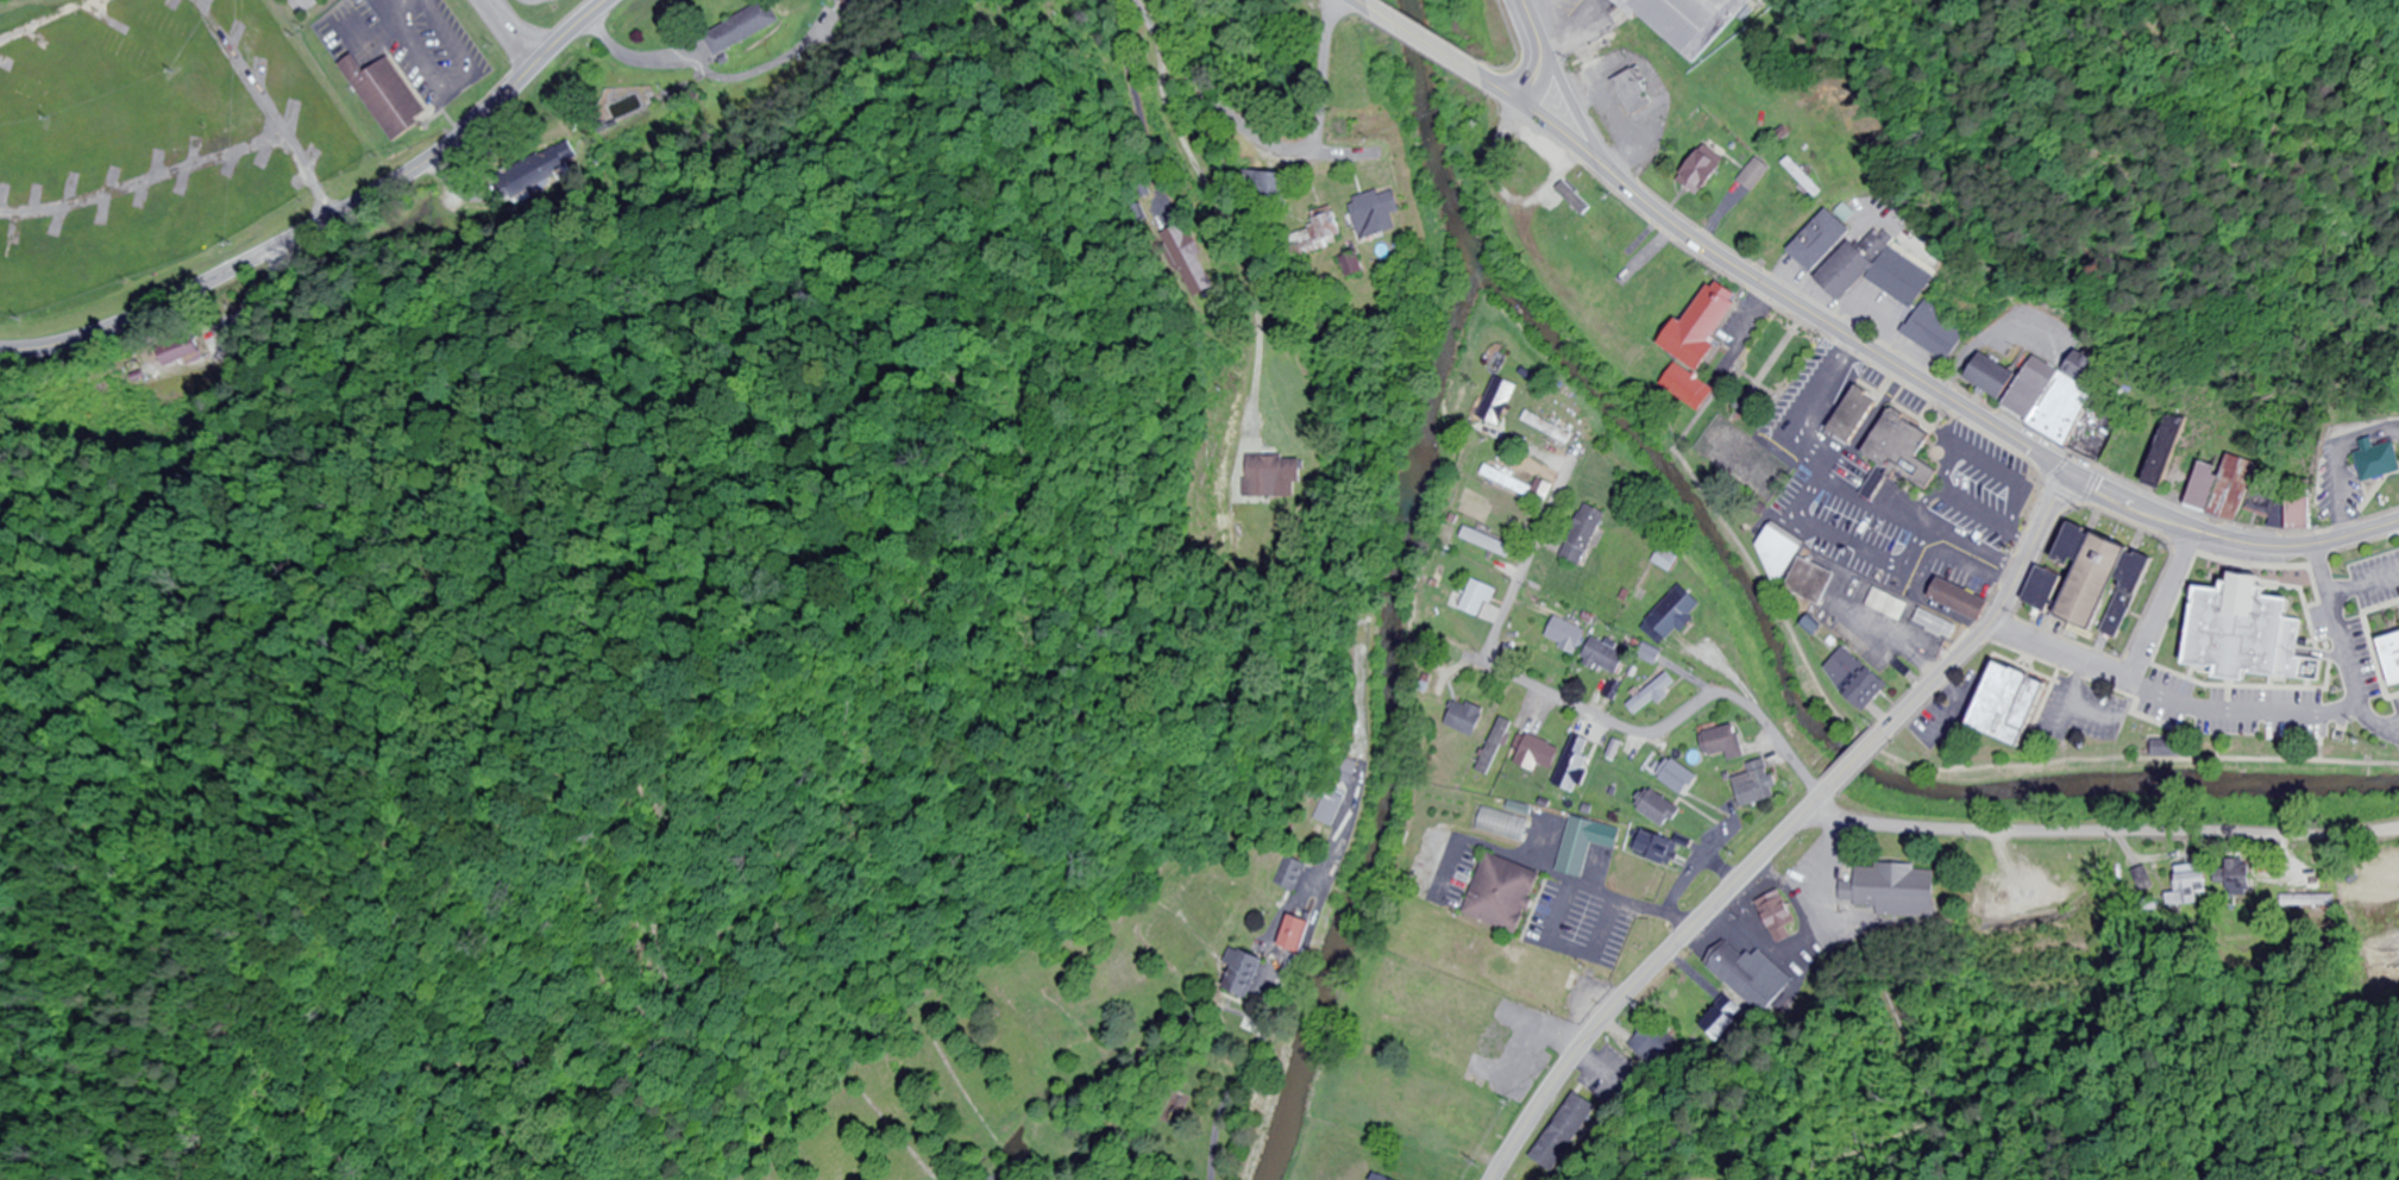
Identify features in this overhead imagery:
building: (849, 2)
road: (1367, 4)
parking lot: (315, 5)
road: (373, 15)
road: (46, 20)
building: (1689, 21)
building: (742, 27)
road: (1428, 42)
building: (130, 51)
road: (1541, 51)
road: (244, 67)
road: (1505, 90)
building: (1635, 92)
building: (388, 93)
road: (1263, 140)
river: (1440, 142)
building: (1703, 172)
road: (309, 174)
building: (1756, 174)
building: (529, 175)
road: (145, 182)
building: (1267, 186)
building: (1577, 199)
building: (1377, 213)
road: (327, 214)
building: (1325, 228)
building: (1821, 240)
building: (1606, 246)
building: (1188, 259)
building: (1877, 270)
building: (1666, 288)
building: (1616, 300)
road: (1789, 300)
road: (1257, 309)
building: (1704, 327)
road: (1747, 331)
building: (1933, 331)
building: (1993, 376)
building: (1690, 387)
building: (1501, 401)
building: (2065, 402)
building: (1858, 414)
building: (1551, 428)
building: (1905, 450)
building: (2167, 452)
building: (2376, 459)
building: (1977, 475)
building: (1274, 477)
building: (2026, 483)
building: (1520, 484)
building: (2224, 488)
building: (1587, 535)
road: (2228, 539)
building: (1489, 542)
building: (1783, 551)
building: (1670, 560)
road: (2177, 576)
building: (1815, 582)
building: (2102, 582)
building: (2049, 590)
building: (2234, 591)
building: (1471, 598)
building: (1964, 598)
building: (1890, 604)
building: (1678, 613)
road: (1997, 616)
building: (1939, 624)
building: (1569, 635)
road: (2341, 636)
road: (2087, 653)
building: (2393, 655)
building: (1607, 658)
building: (2315, 670)
building: (1859, 678)
building: (1654, 695)
road: (1575, 703)
building: (2016, 704)
building: (1467, 717)
building: (1727, 742)
building: (2167, 749)
building: (1540, 754)
road: (1858, 760)
road: (1910, 764)
building: (1576, 765)
building: (1681, 777)
building: (1758, 785)
road: (1816, 802)
building: (1332, 809)
building: (1663, 810)
building: (1506, 824)
road: (2099, 834)
building: (1588, 845)
building: (1660, 860)
building: (1290, 874)
building: (2241, 875)
building: (2187, 885)
building: (1894, 891)
building: (1506, 896)
building: (2306, 905)
building: (1779, 916)
building: (1298, 935)
building: (1537, 972)
building: (1242, 974)
building: (1751, 978)
road: (1634, 986)
building: (1450, 996)
building: (1719, 1023)
building: (1653, 1044)
road: (1227, 1101)
building: (1566, 1134)
building: (1379, 1178)

